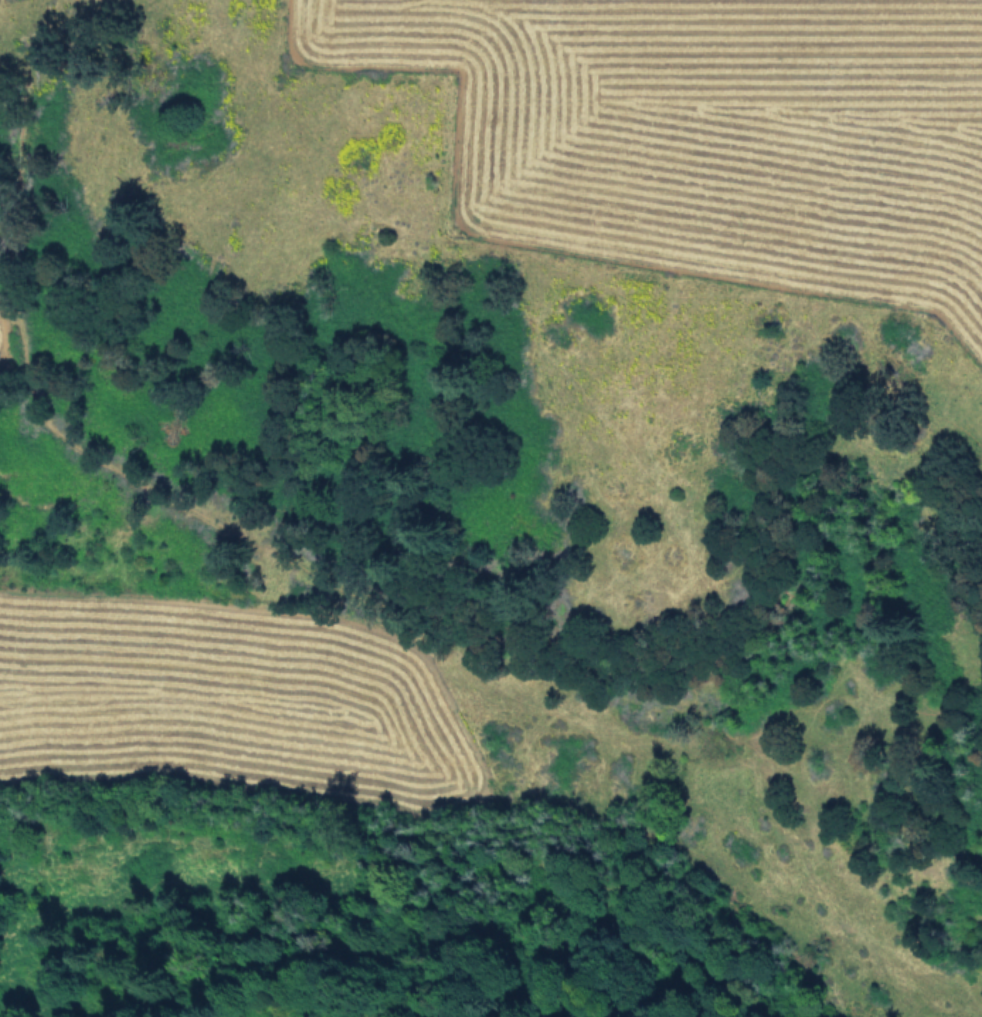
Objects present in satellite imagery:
crop: (698, 152)
river: (513, 822)

